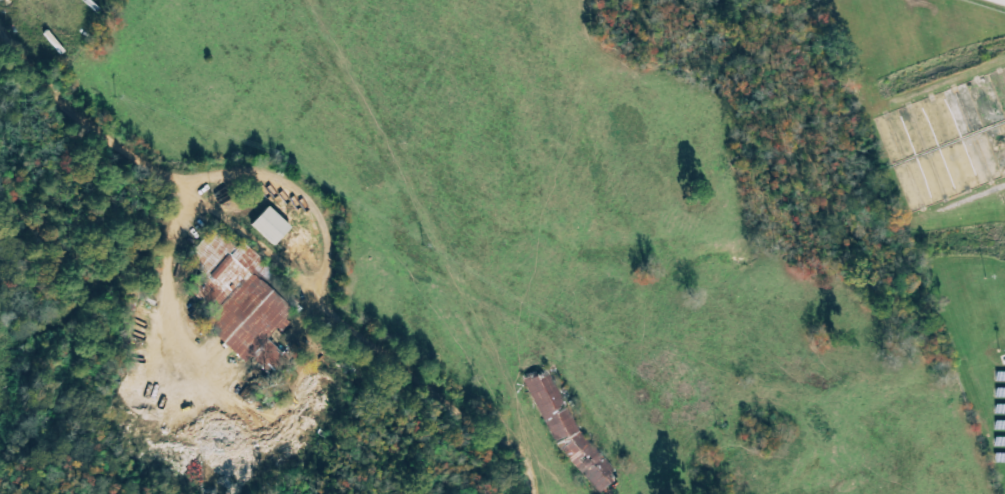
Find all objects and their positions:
road: (314, 204)
building: (270, 226)
building: (237, 297)
building: (568, 430)

